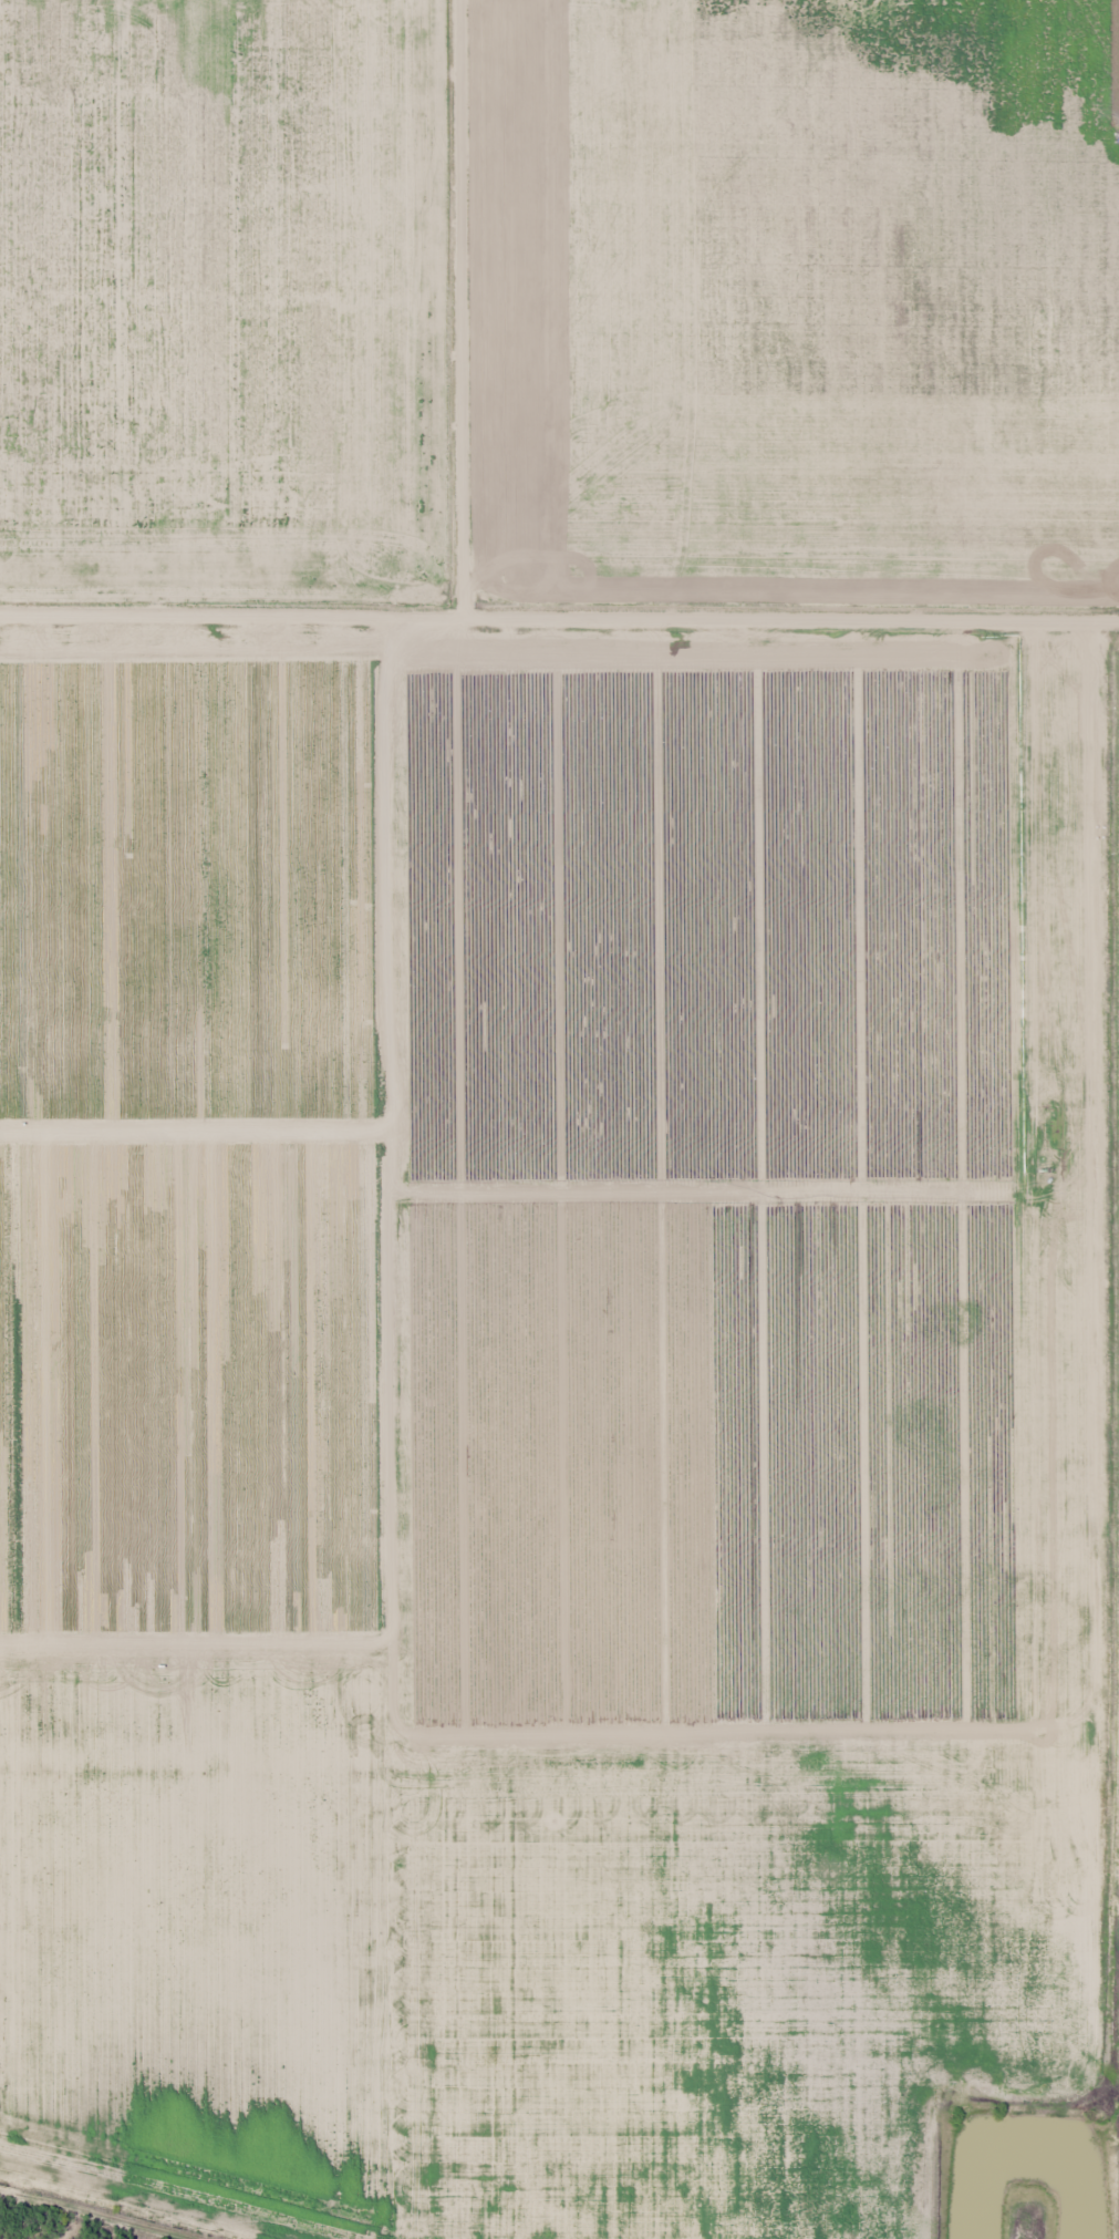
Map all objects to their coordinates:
road: (149, 2201)

